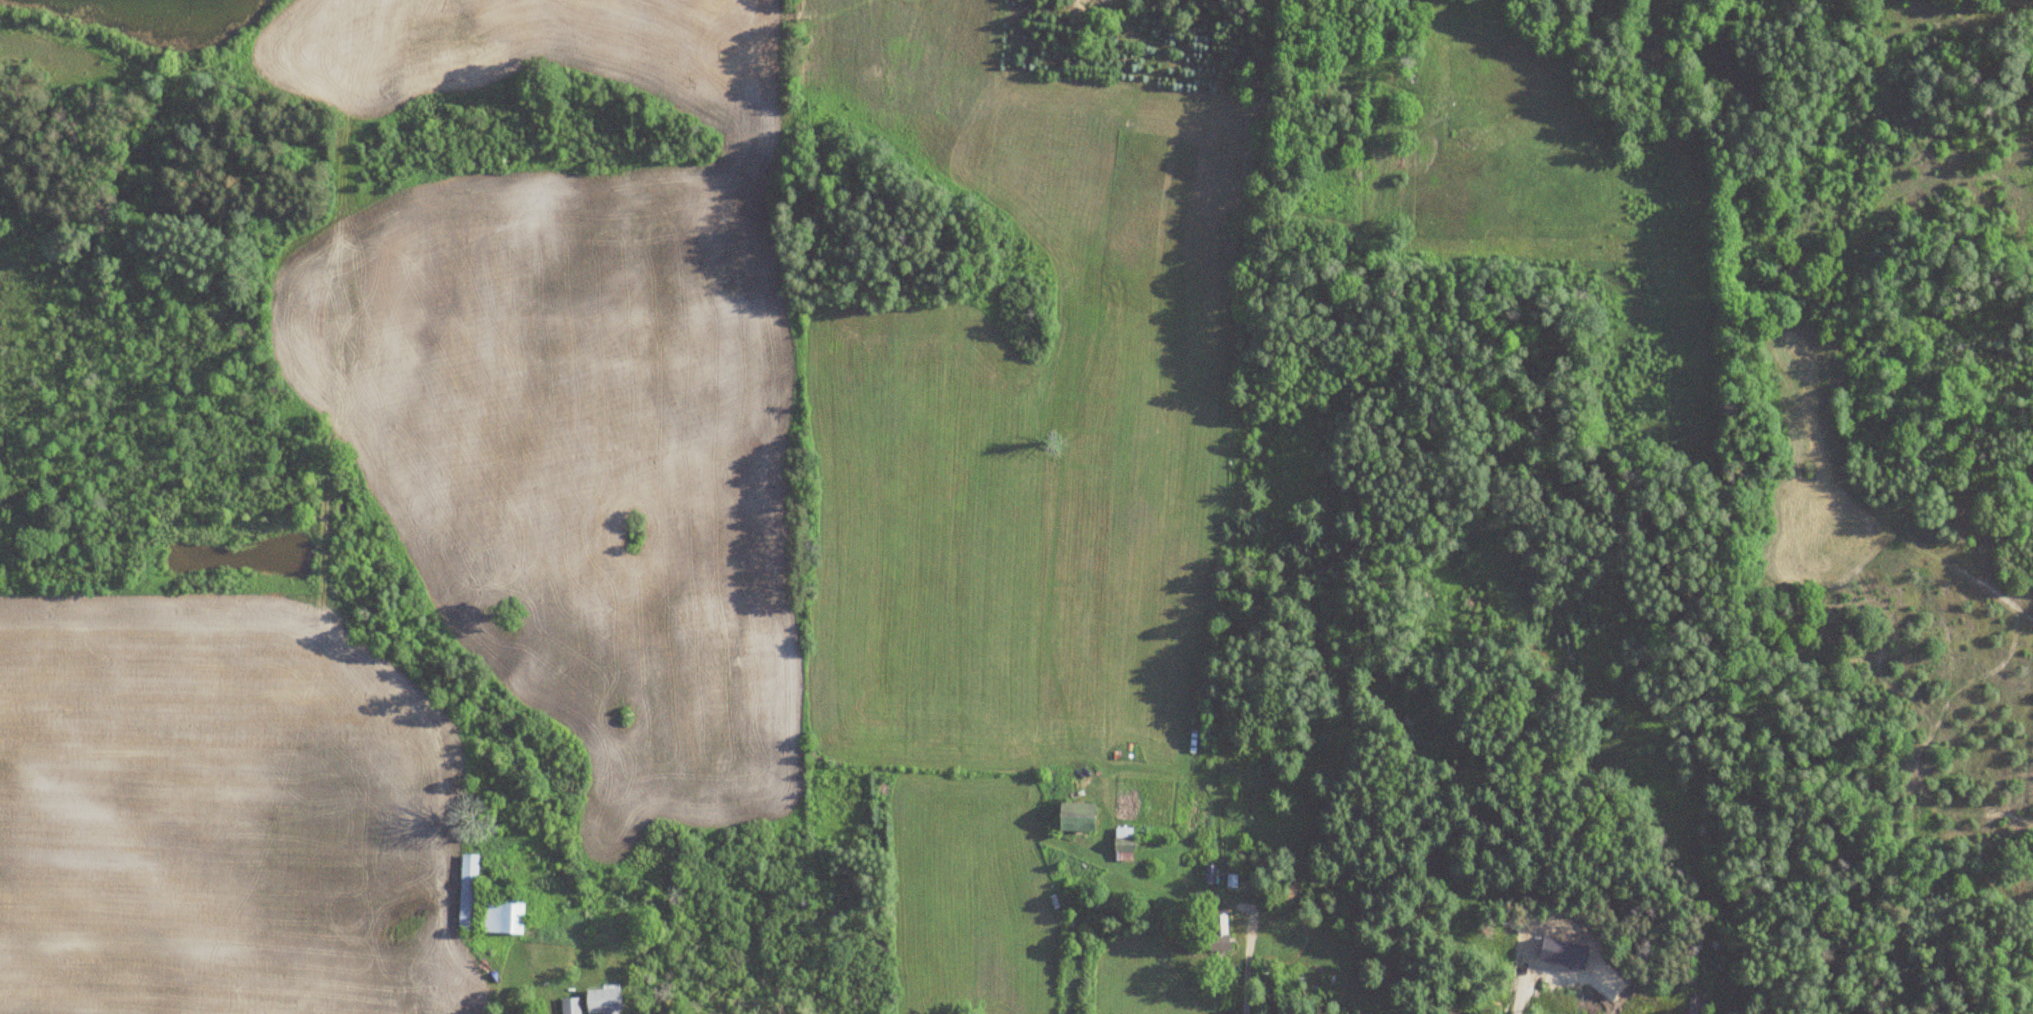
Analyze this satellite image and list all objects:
building: (1072, 818)
building: (1120, 844)
building: (1208, 873)
building: (465, 887)
building: (500, 917)
building: (1214, 933)
building: (600, 1001)
building: (568, 1007)

